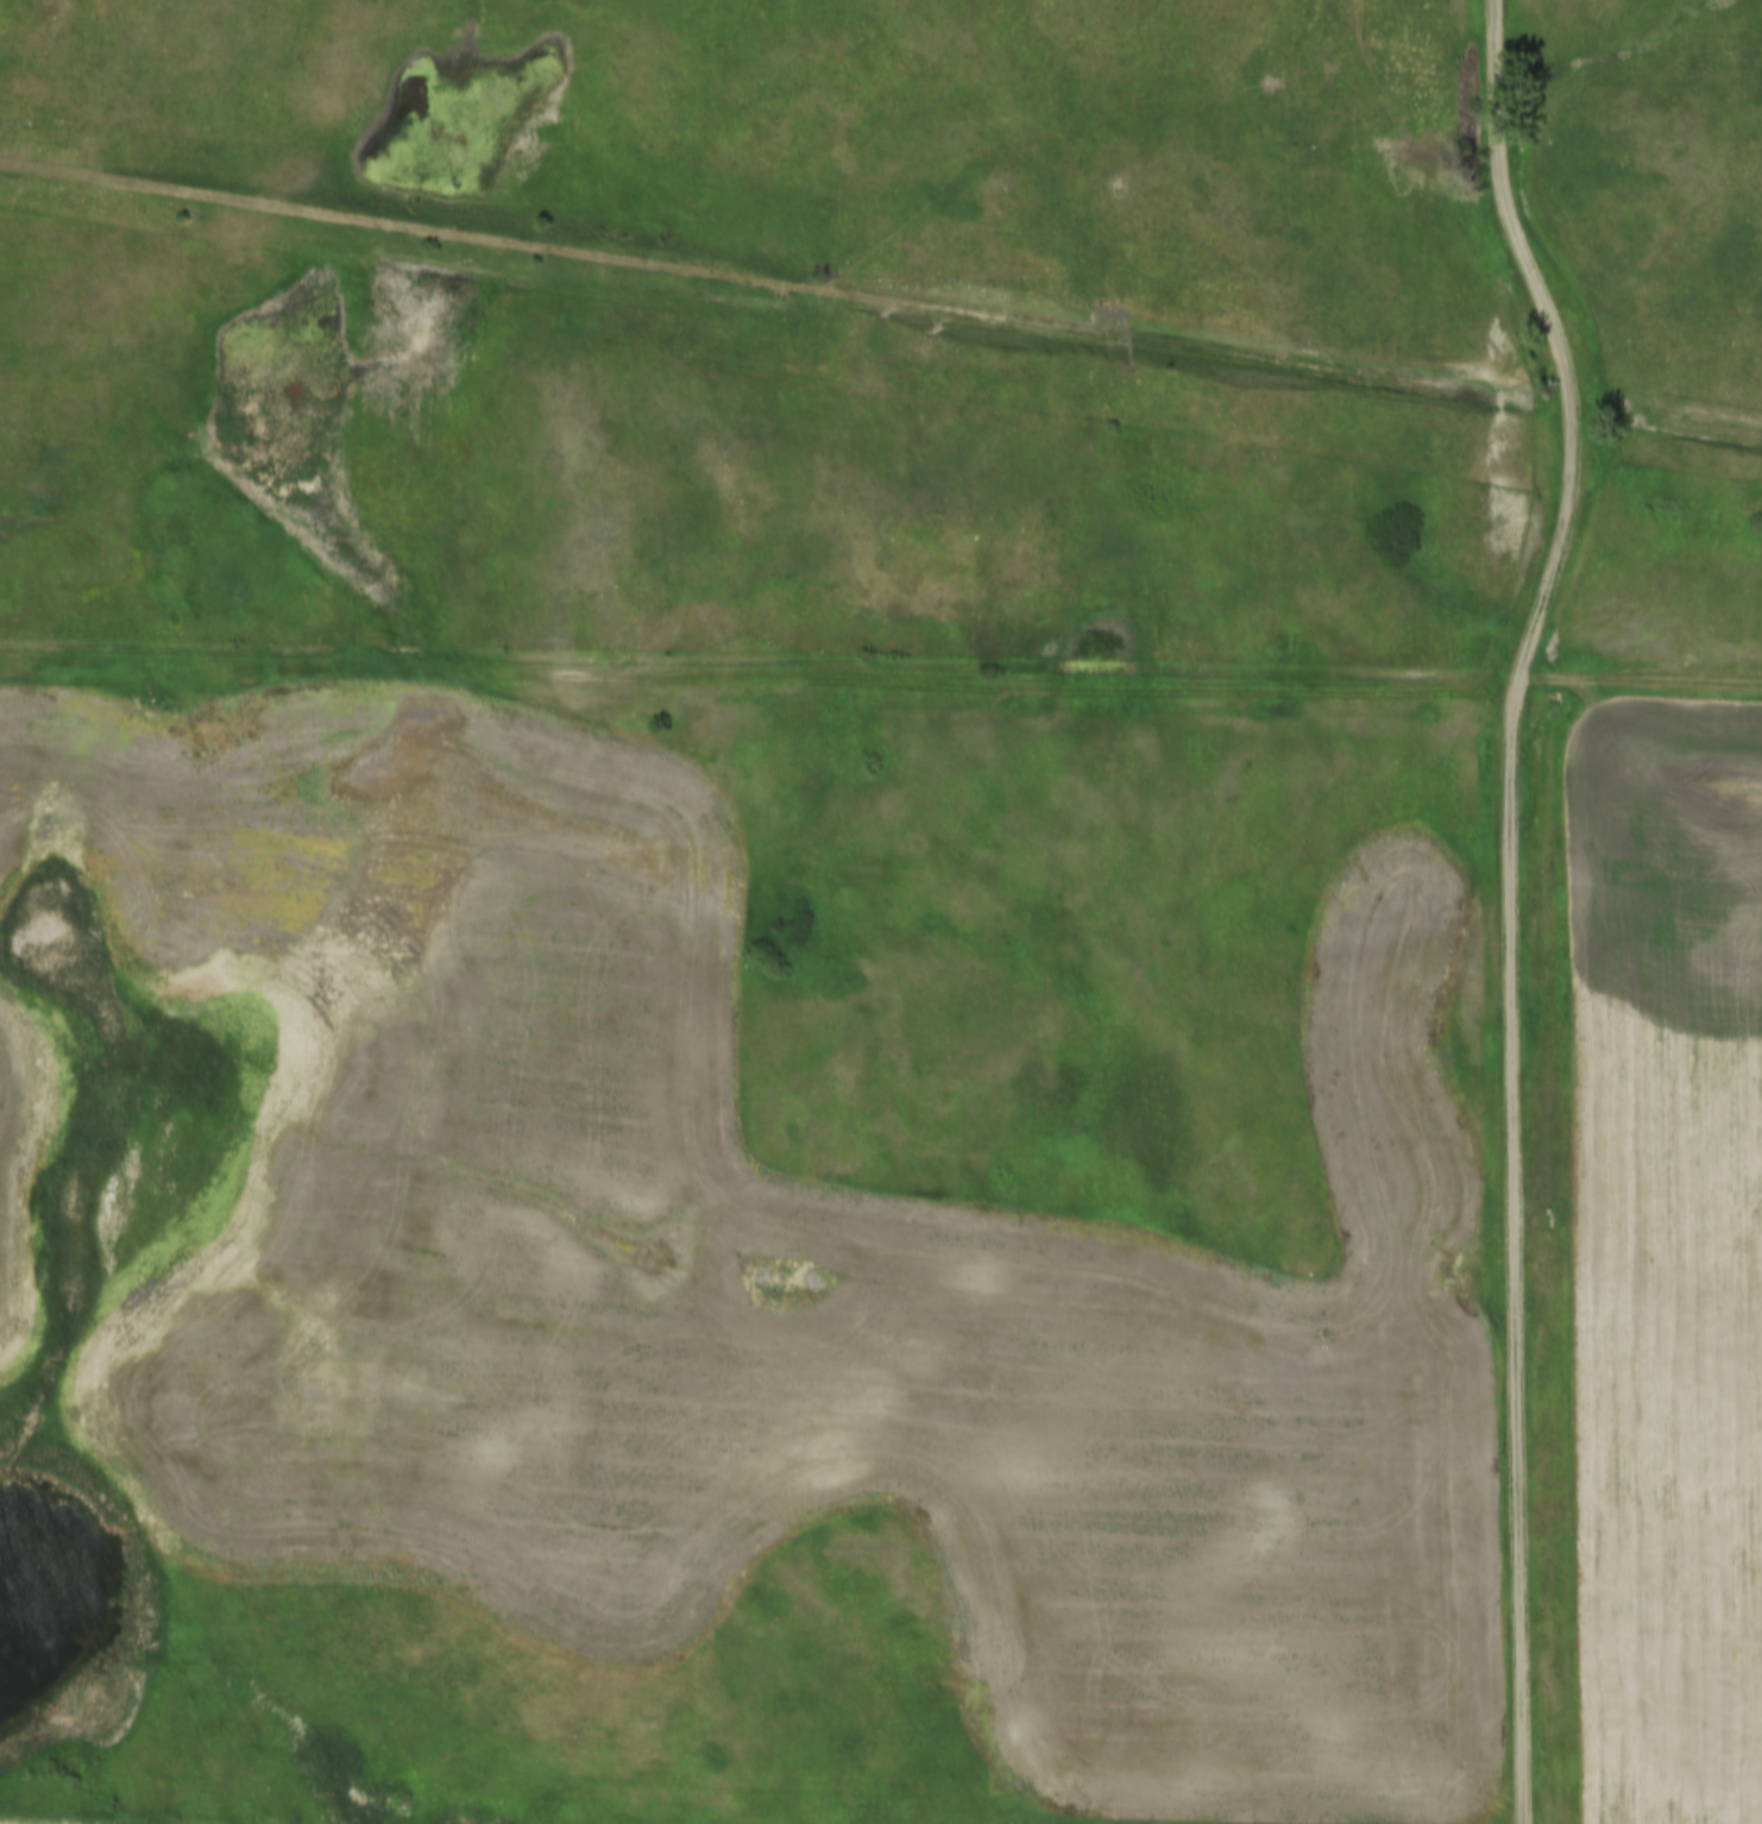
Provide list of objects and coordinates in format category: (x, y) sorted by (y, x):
road: (1563, 346)
road: (881, 685)
road: (1522, 1258)

